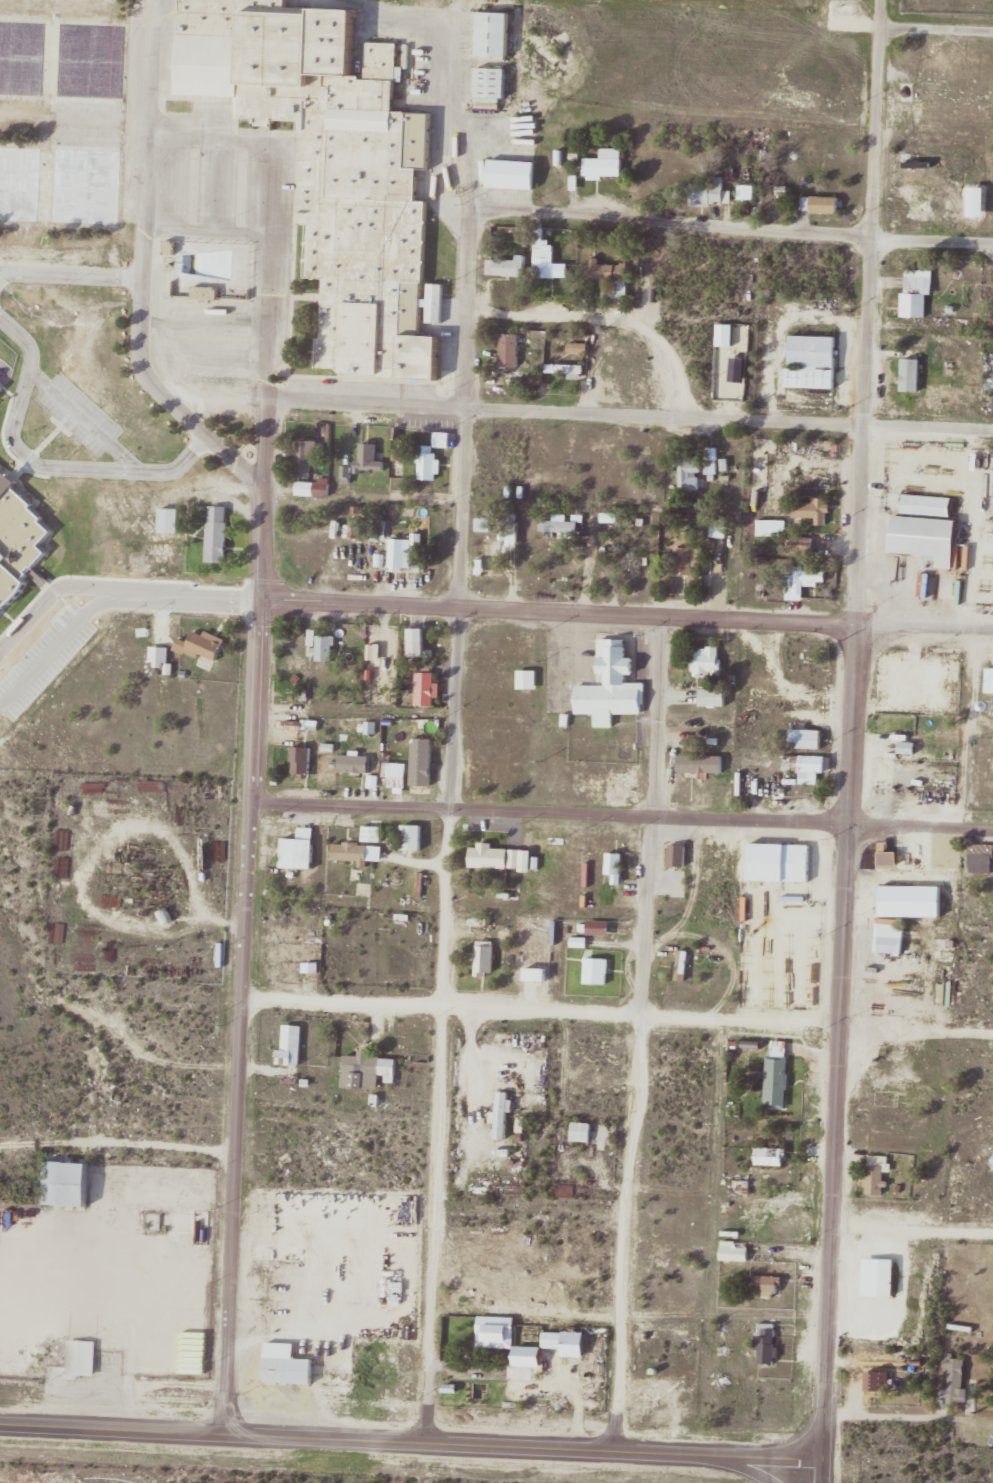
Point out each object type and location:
road: (882, 12)
road: (937, 28)
building: (494, 34)
park: (57, 57)
building: (491, 83)
road: (456, 105)
building: (605, 164)
building: (330, 166)
building: (512, 173)
park: (60, 183)
building: (747, 191)
building: (708, 192)
building: (820, 203)
road: (732, 227)
building: (548, 258)
building: (510, 266)
road: (142, 269)
road: (70, 273)
building: (614, 276)
building: (917, 291)
building: (579, 348)
building: (509, 349)
building: (812, 361)
building: (566, 368)
road: (630, 414)
road: (92, 426)
building: (308, 456)
building: (432, 456)
building: (370, 457)
building: (712, 460)
building: (690, 473)
building: (314, 488)
building: (927, 503)
building: (811, 508)
building: (170, 520)
building: (484, 524)
building: (563, 527)
building: (719, 527)
building: (772, 527)
building: (379, 529)
building: (511, 531)
building: (218, 533)
building: (925, 536)
building: (305, 550)
building: (407, 552)
building: (487, 560)
building: (691, 563)
building: (616, 576)
building: (803, 580)
road: (116, 588)
road: (627, 615)
building: (418, 641)
building: (204, 644)
road: (59, 647)
building: (327, 647)
building: (809, 653)
building: (161, 655)
building: (706, 660)
building: (50, 676)
building: (989, 679)
building: (613, 683)
building: (426, 688)
building: (713, 696)
building: (806, 738)
road: (854, 742)
building: (302, 760)
building: (355, 763)
building: (701, 763)
building: (392, 766)
building: (808, 767)
road: (622, 816)
road: (453, 825)
building: (373, 833)
building: (412, 837)
building: (67, 839)
building: (299, 849)
building: (357, 852)
building: (678, 854)
building: (496, 857)
building: (889, 857)
building: (981, 858)
building: (780, 861)
building: (615, 867)
building: (117, 868)
road: (248, 915)
building: (599, 927)
building: (891, 937)
building: (486, 957)
building: (682, 965)
building: (597, 970)
building: (536, 973)
building: (916, 986)
road: (619, 1012)
road: (641, 1033)
building: (292, 1046)
building: (369, 1071)
building: (778, 1074)
building: (582, 1132)
building: (771, 1156)
building: (876, 1179)
building: (64, 1184)
road: (914, 1227)
building: (735, 1250)
building: (766, 1285)
building: (554, 1340)
building: (488, 1341)
building: (767, 1343)
building: (83, 1359)
building: (287, 1365)
building: (956, 1379)
building: (878, 1381)
road: (27, 1427)
road: (439, 1440)
road: (746, 1466)
road: (824, 1471)

